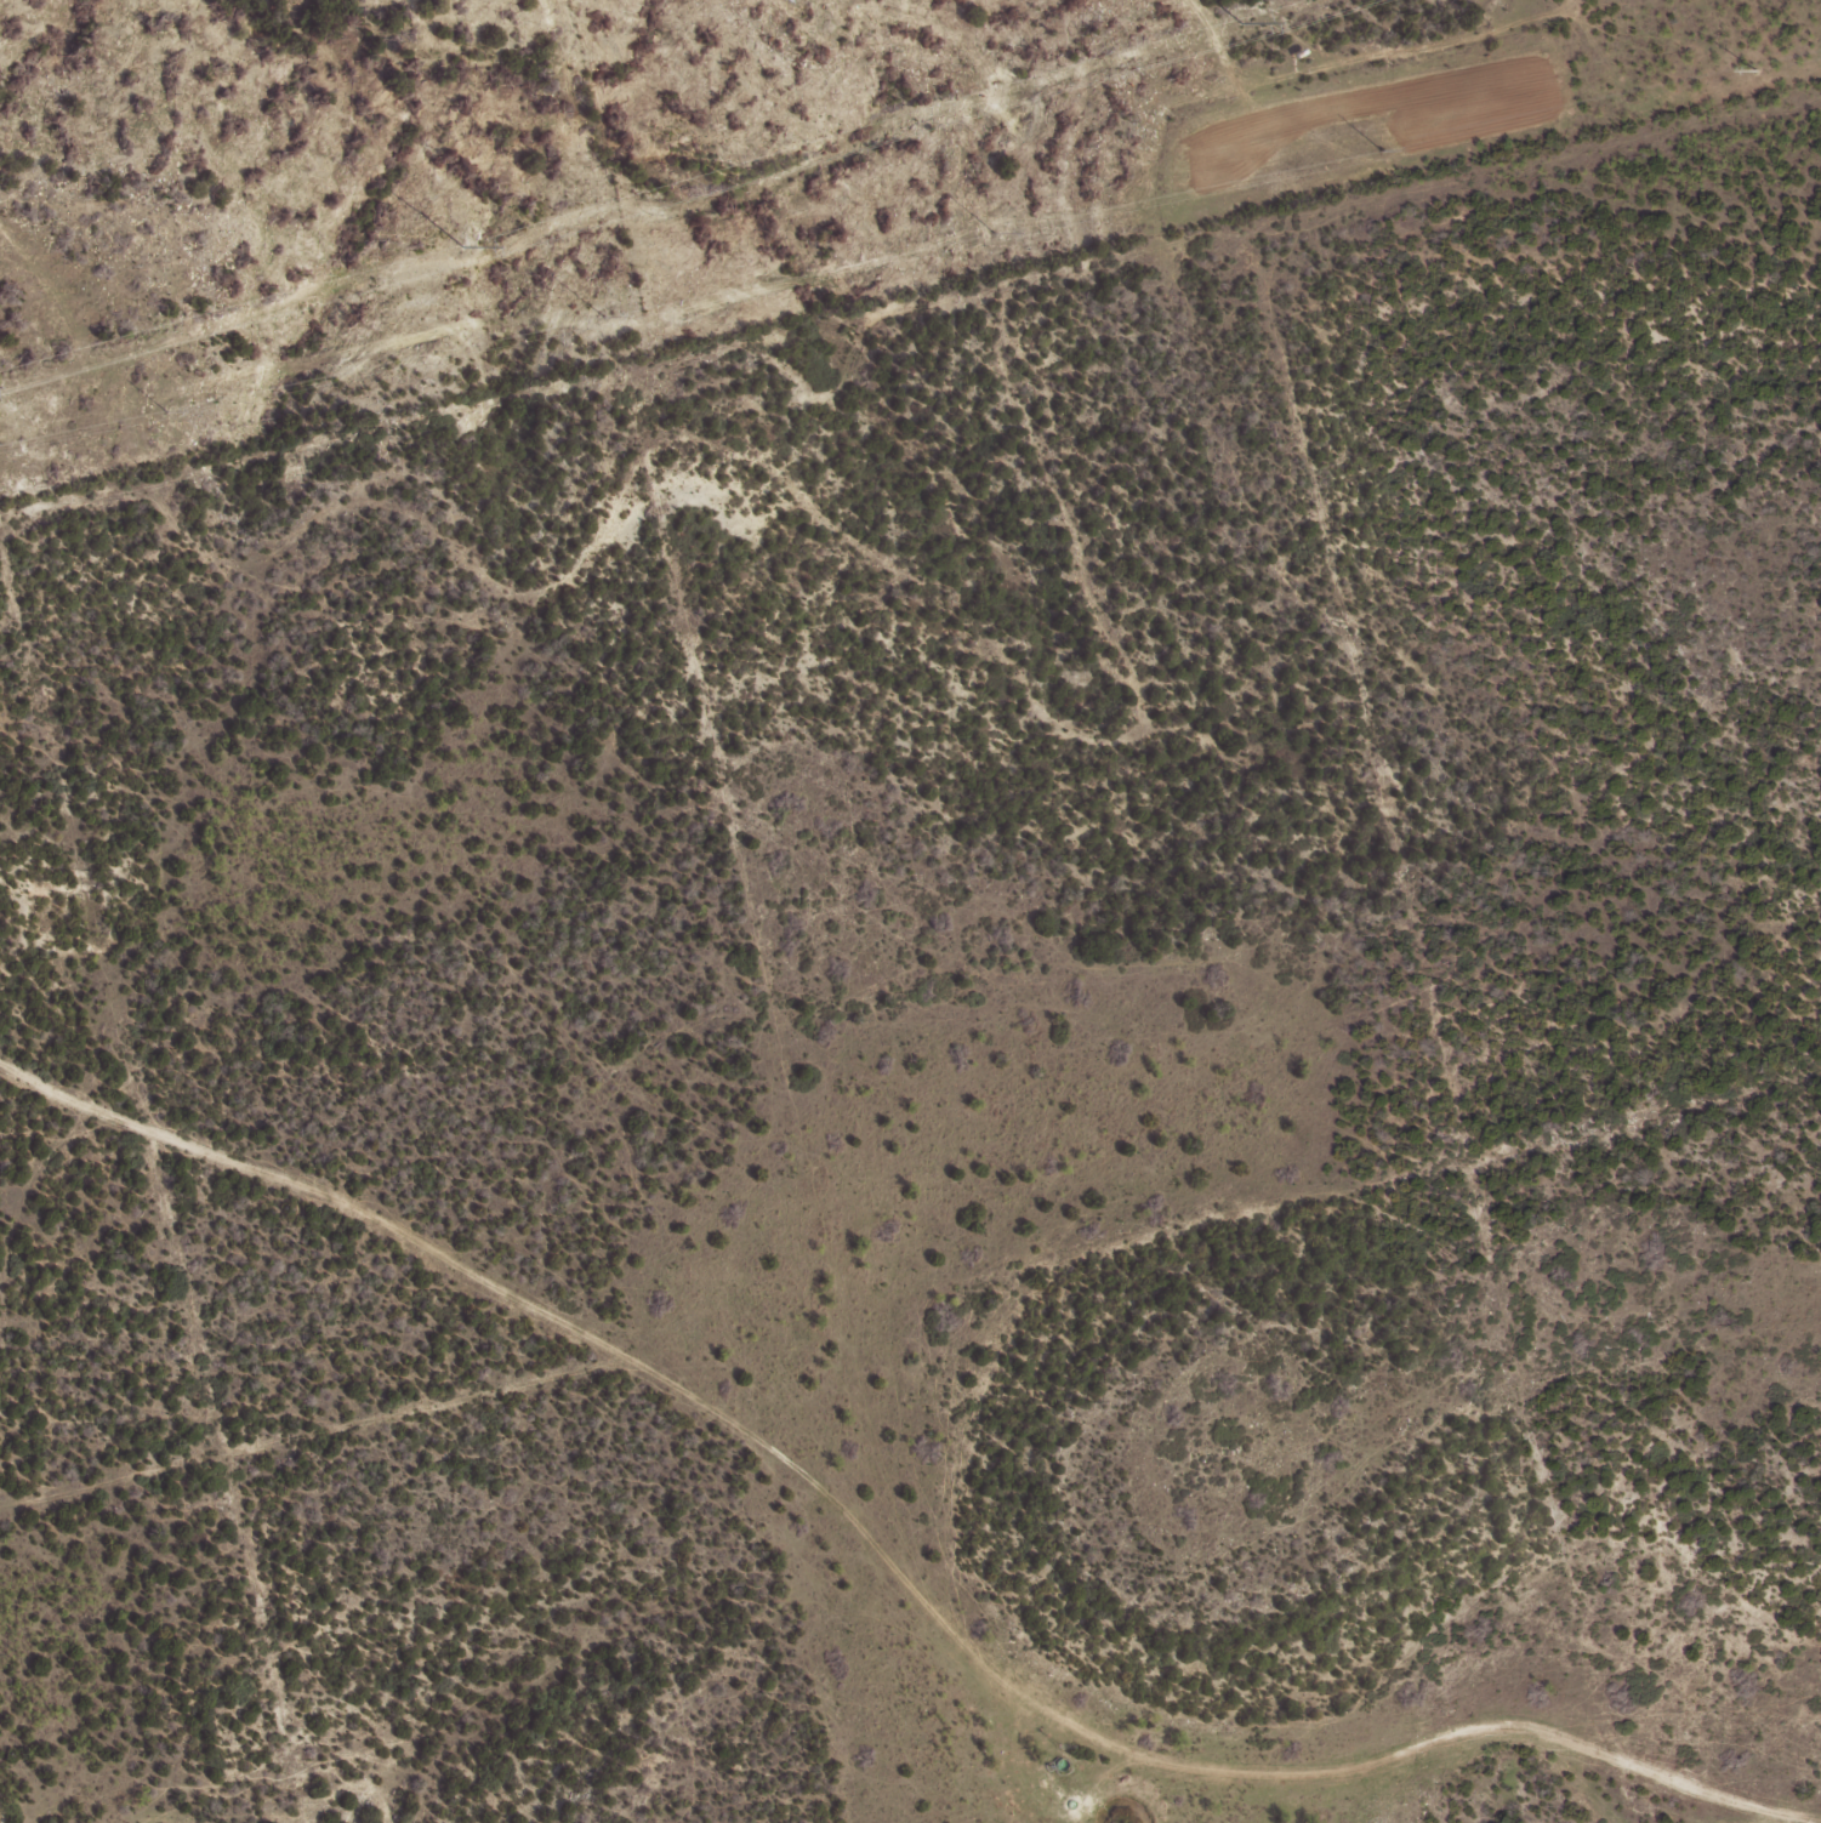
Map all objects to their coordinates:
power tower: (1236, 23)
power tower: (1757, 68)
power tower: (1378, 152)
power tower: (992, 233)
power tower: (456, 246)
power tower: (602, 317)
power tower: (163, 409)
road: (864, 1448)

